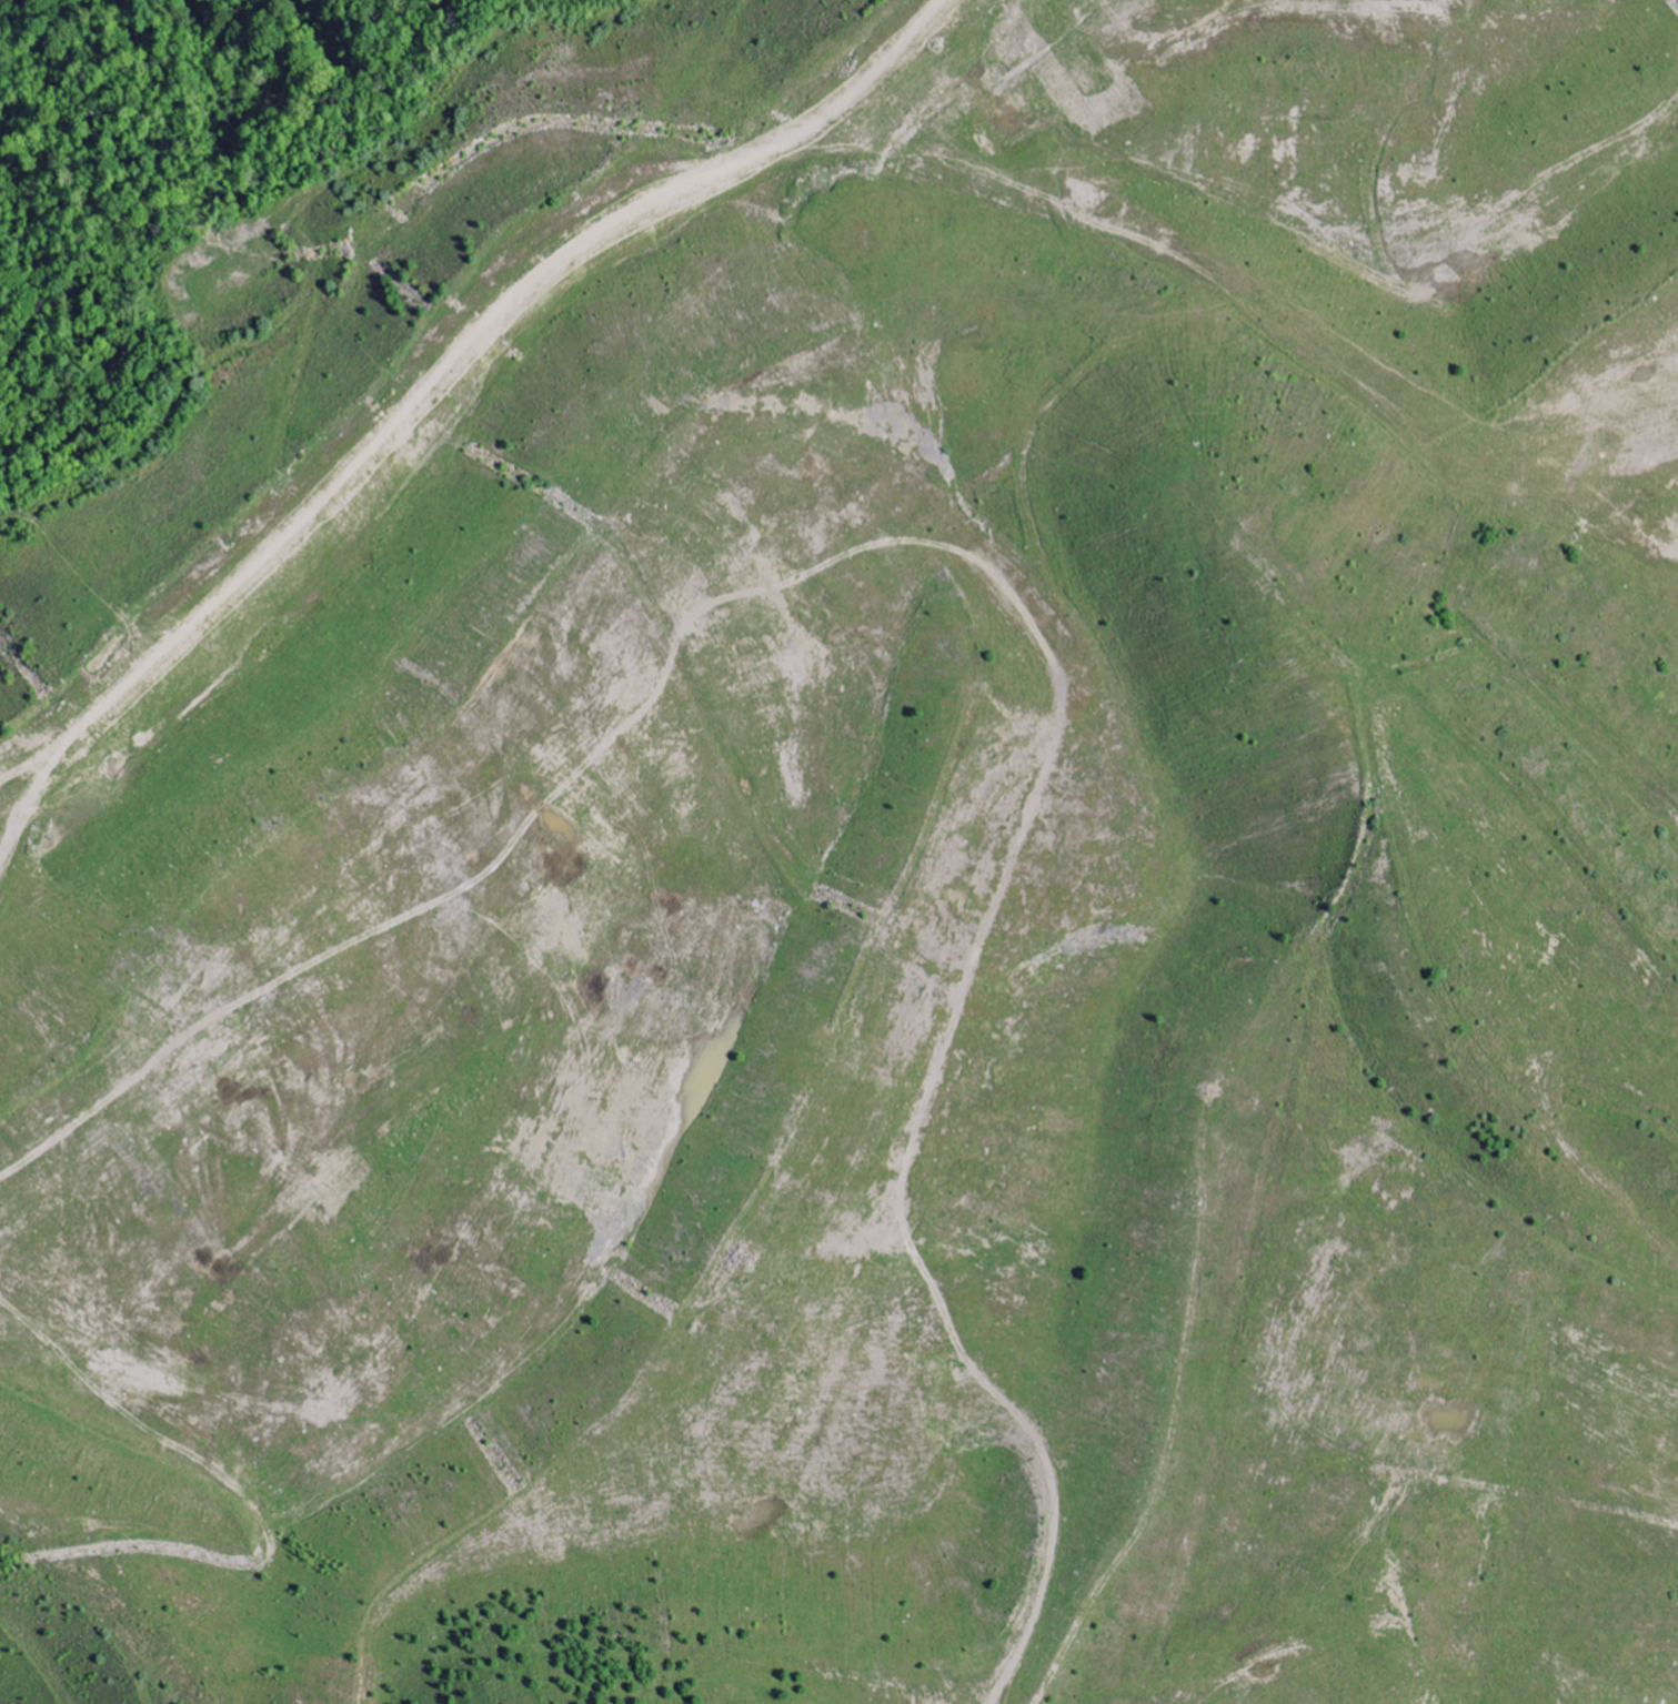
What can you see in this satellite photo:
quarry: (851, 864)

